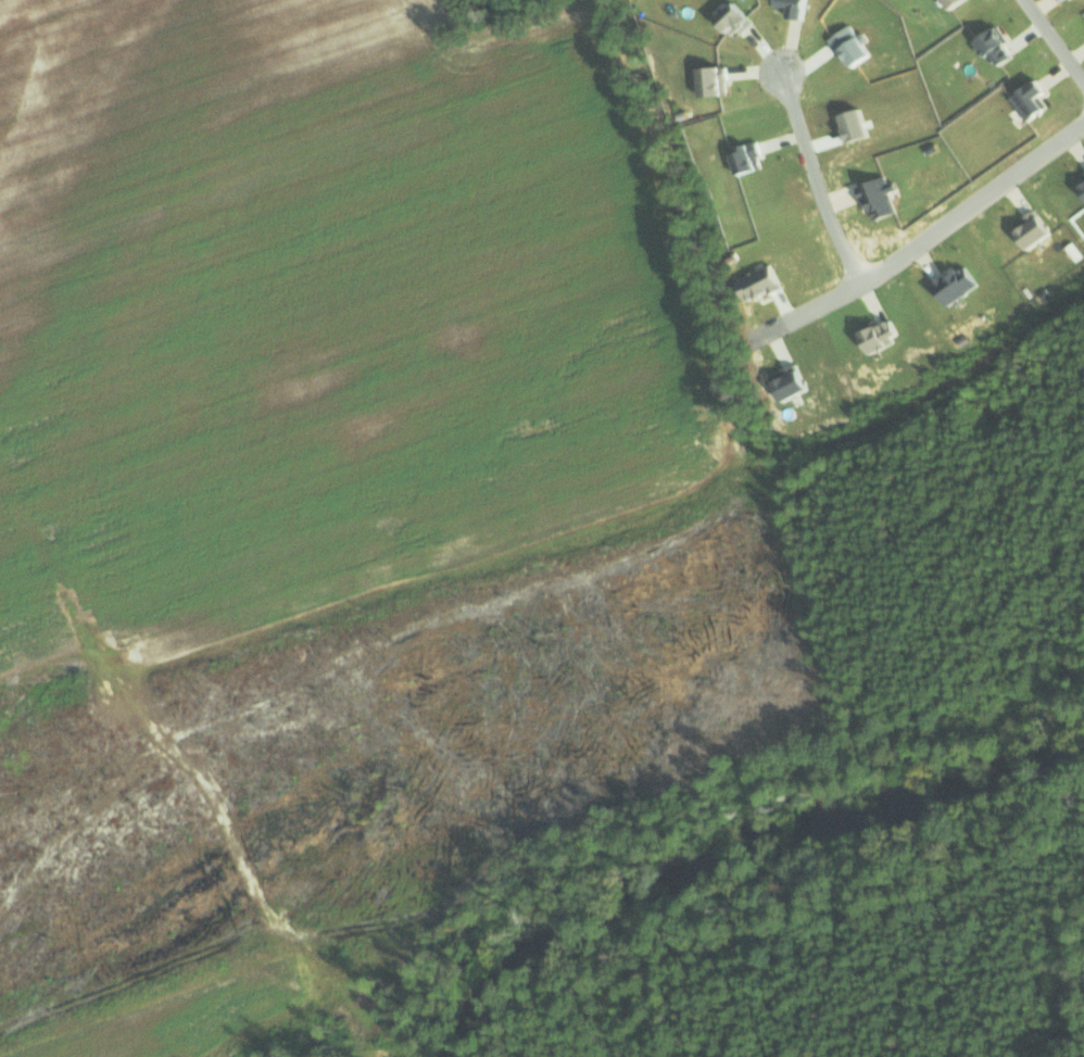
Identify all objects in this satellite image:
building: (955, 2)
building: (796, 7)
building: (738, 17)
road: (1053, 37)
building: (853, 46)
building: (999, 46)
building: (716, 79)
building: (1033, 99)
building: (748, 156)
road: (809, 173)
building: (1083, 179)
building: (881, 197)
road: (925, 223)
building: (1036, 229)
building: (959, 284)
building: (884, 335)
building: (794, 383)
river: (754, 873)

